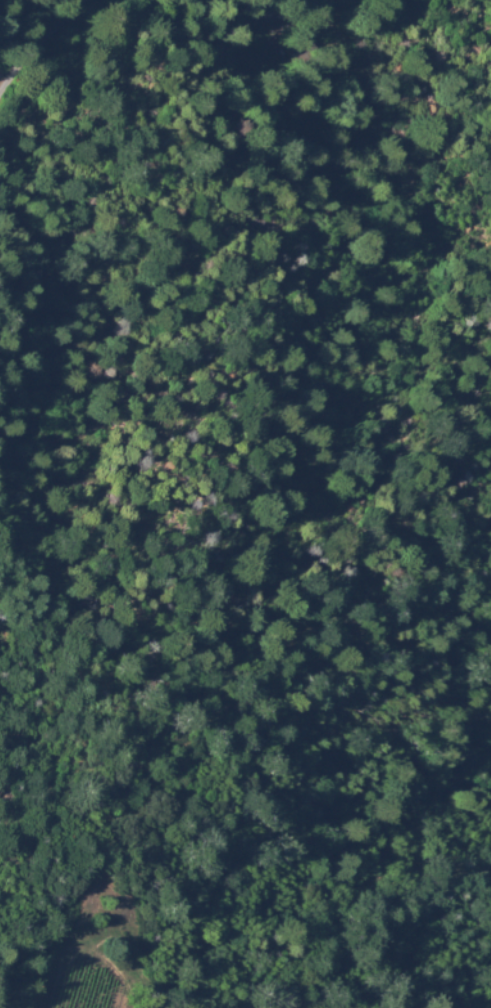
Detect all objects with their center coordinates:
building: (48, 1002)

